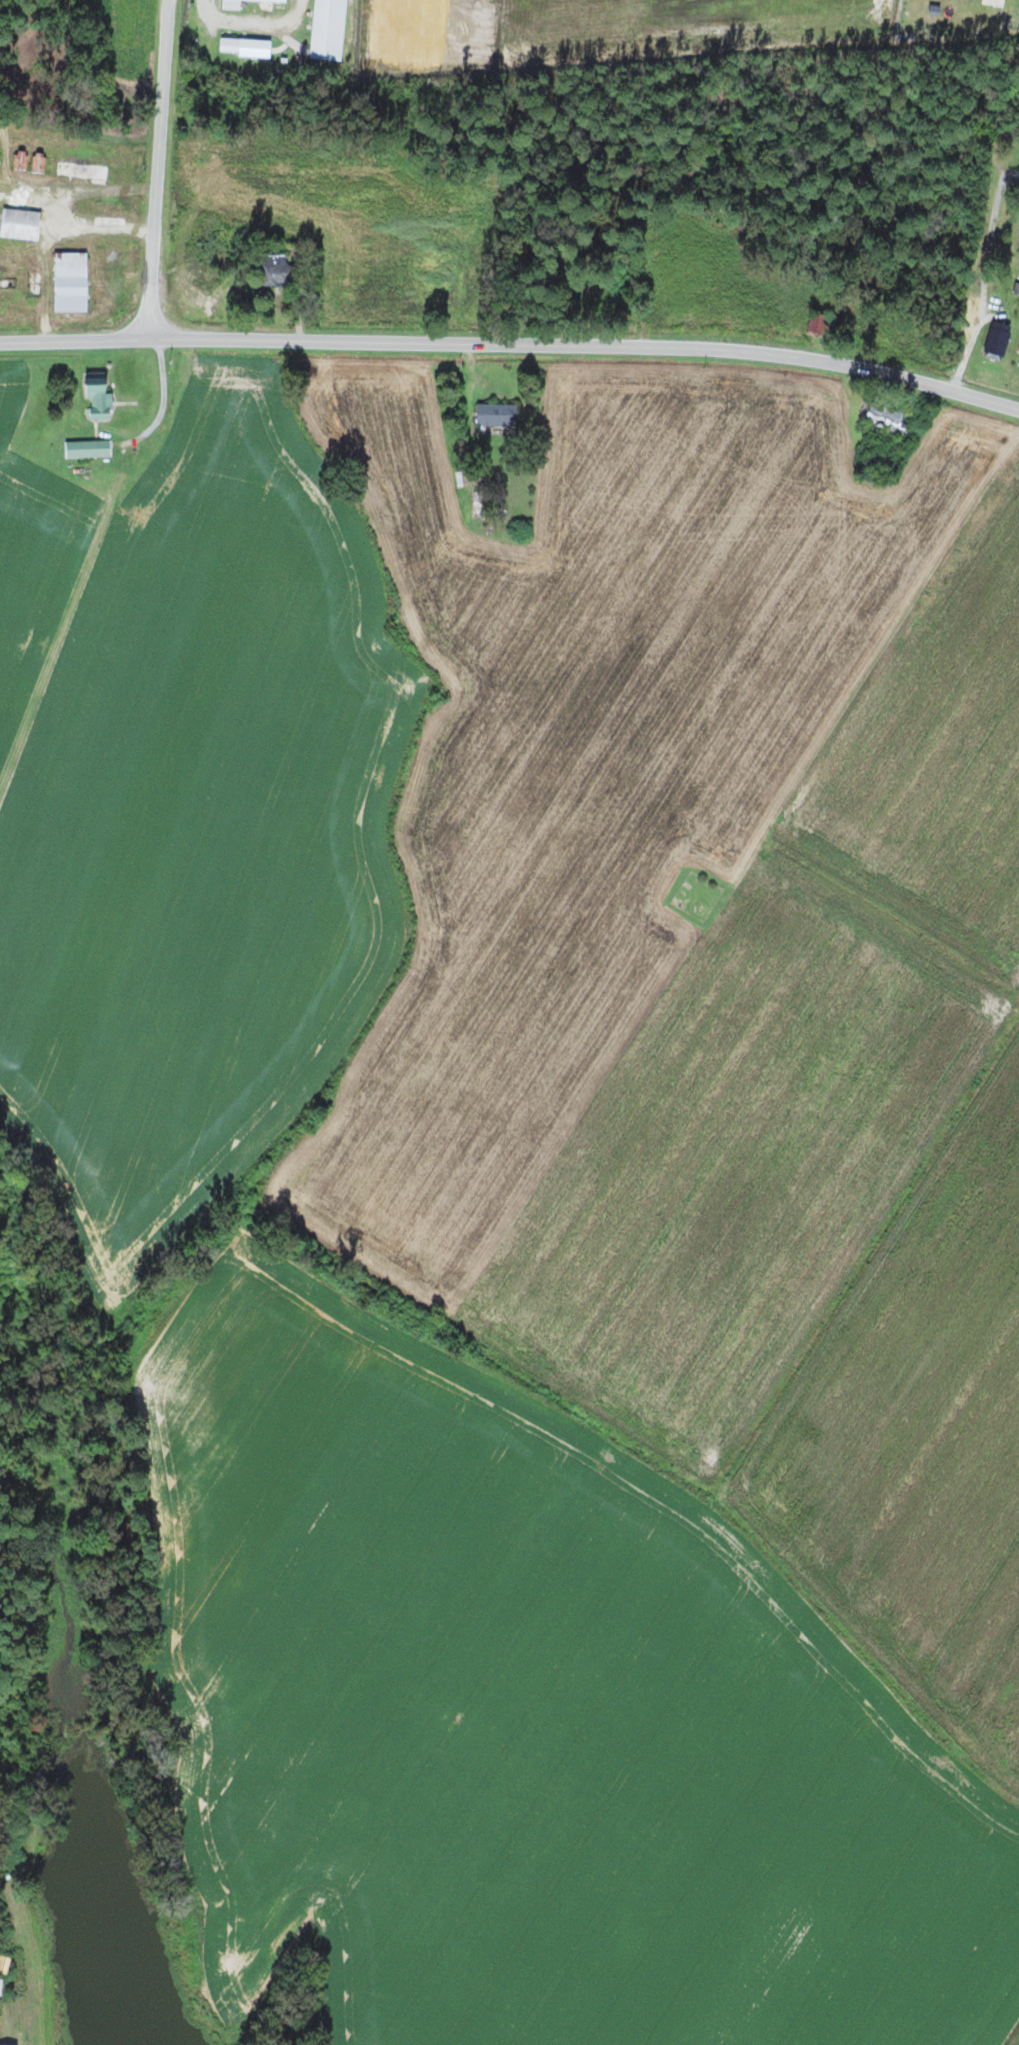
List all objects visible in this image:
building: (231, 6)
building: (329, 30)
building: (247, 47)
road: (157, 168)
building: (21, 224)
building: (277, 271)
building: (70, 283)
building: (998, 339)
road: (512, 344)
building: (1018, 352)
building: (99, 395)
building: (497, 413)
building: (88, 448)

